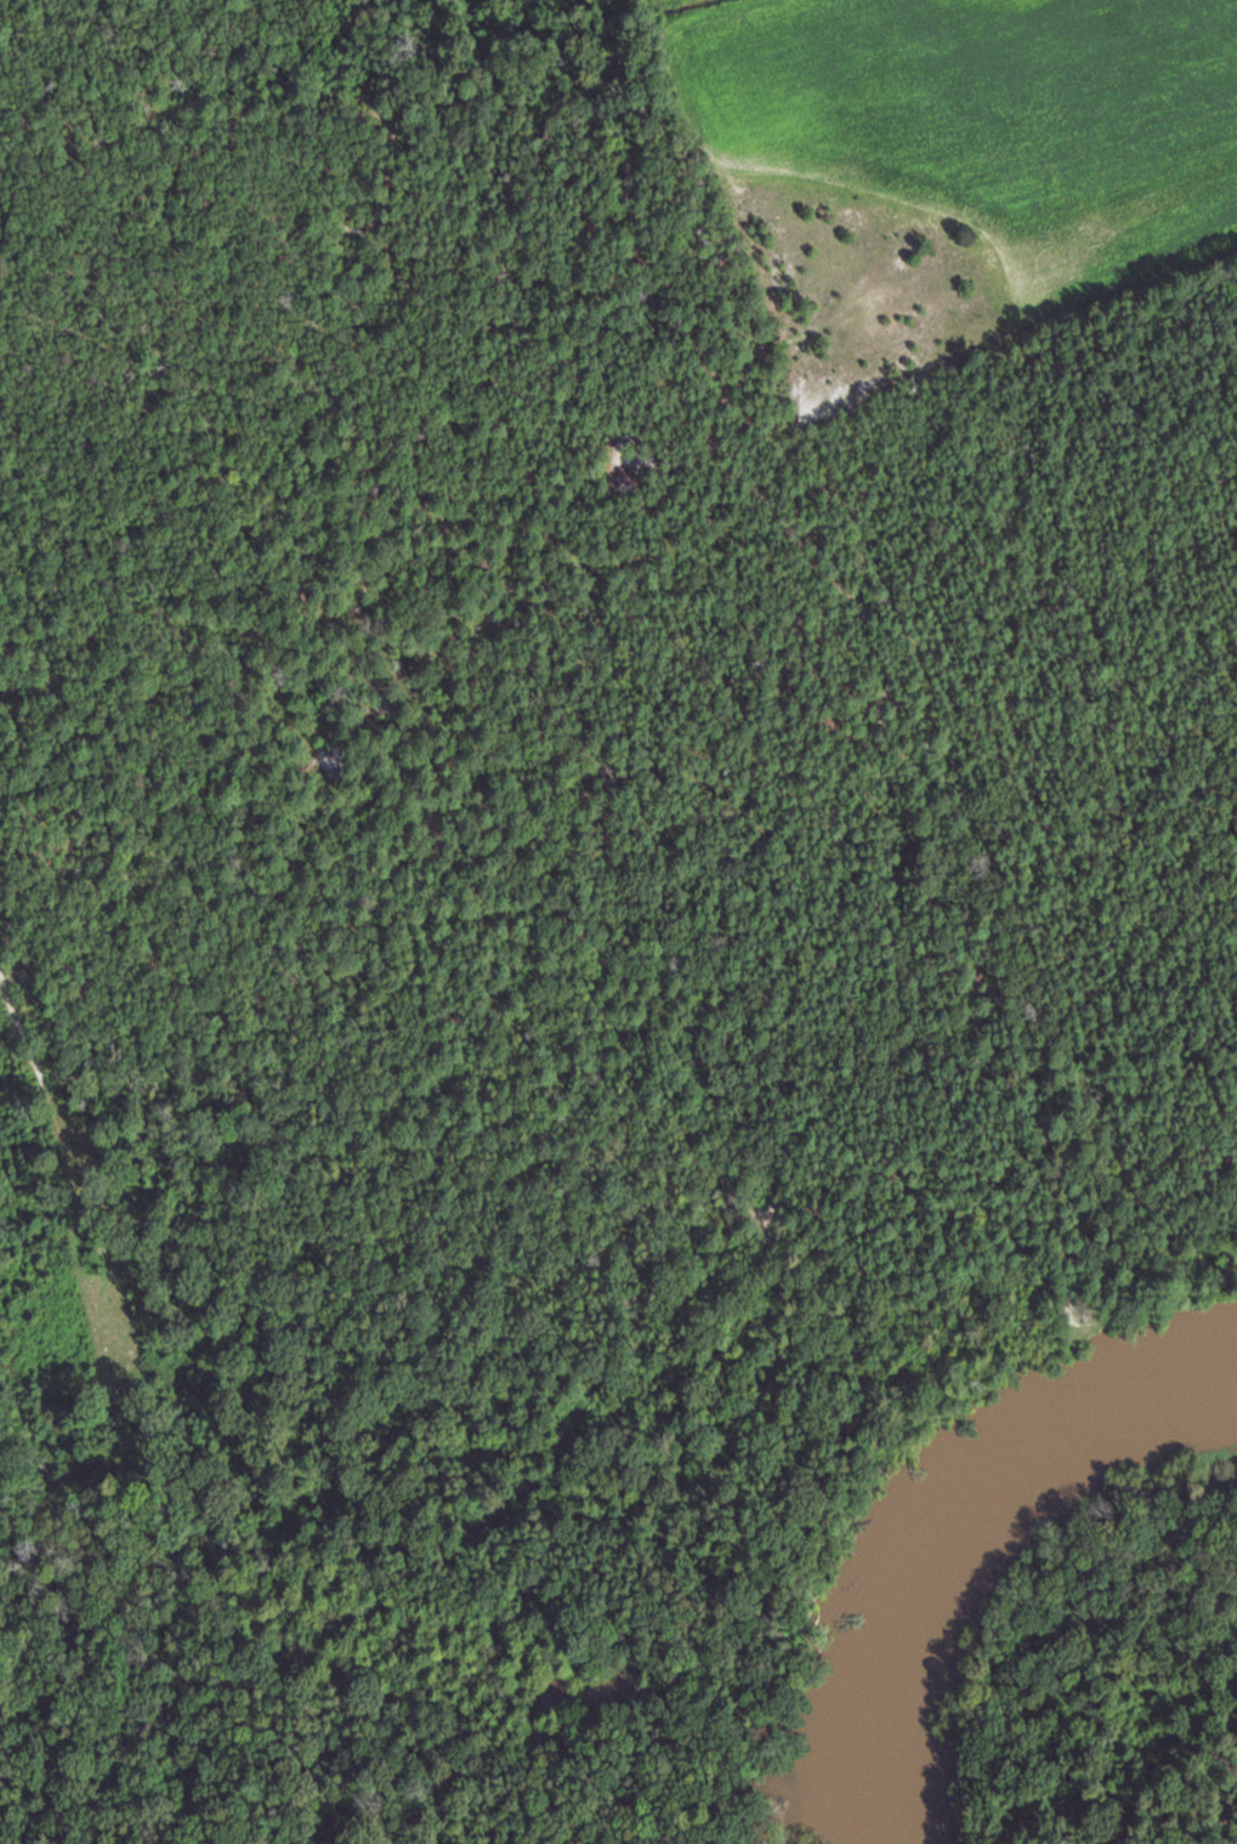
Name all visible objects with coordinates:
river: (947, 1545)

